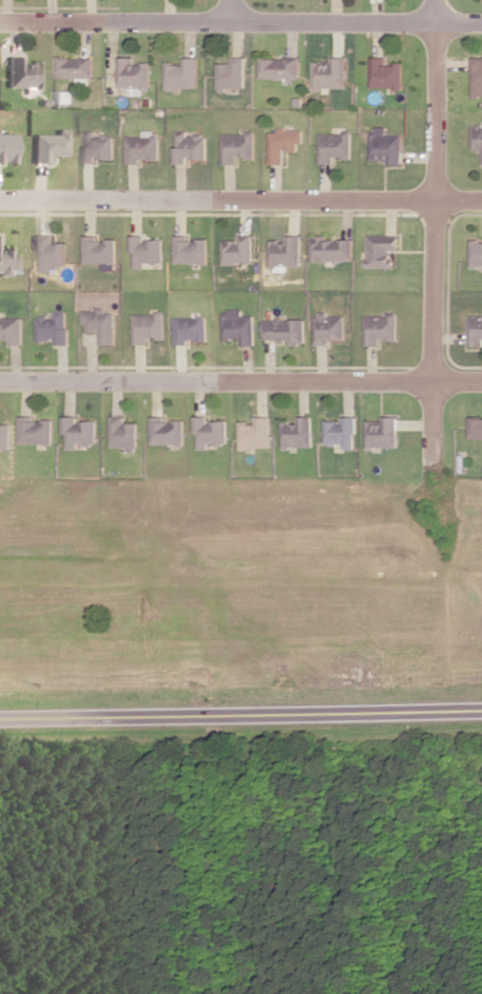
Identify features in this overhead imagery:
road: (233, 8)
road: (241, 17)
building: (76, 67)
building: (278, 67)
building: (232, 73)
building: (327, 73)
building: (23, 74)
building: (184, 74)
building: (382, 74)
building: (136, 75)
building: (475, 77)
building: (63, 96)
building: (476, 137)
building: (283, 143)
building: (51, 145)
building: (97, 146)
building: (191, 146)
building: (239, 146)
building: (332, 146)
building: (384, 146)
building: (144, 147)
building: (9, 148)
road: (241, 201)
road: (434, 239)
building: (332, 249)
building: (381, 249)
building: (191, 250)
building: (240, 250)
building: (99, 251)
building: (146, 251)
building: (49, 253)
building: (287, 253)
building: (475, 253)
building: (8, 259)
building: (100, 324)
building: (147, 326)
building: (240, 327)
building: (331, 327)
building: (51, 328)
building: (382, 328)
building: (190, 329)
building: (10, 330)
building: (286, 330)
building: (475, 330)
road: (240, 376)
road: (417, 420)
building: (475, 428)
building: (33, 430)
building: (164, 431)
building: (77, 432)
building: (208, 432)
building: (296, 432)
building: (341, 432)
building: (383, 432)
building: (121, 433)
building: (254, 433)
building: (4, 436)
road: (241, 713)
road: (4, 986)

